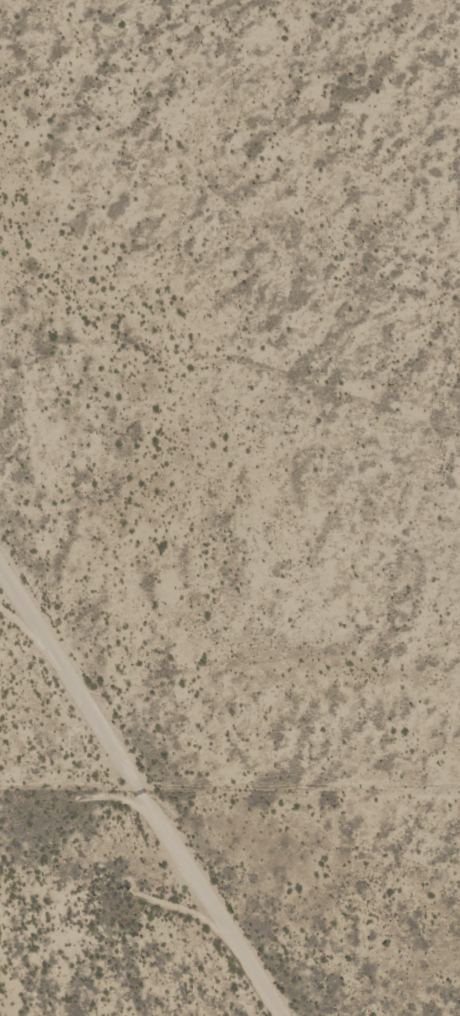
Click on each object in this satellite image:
road: (133, 804)

